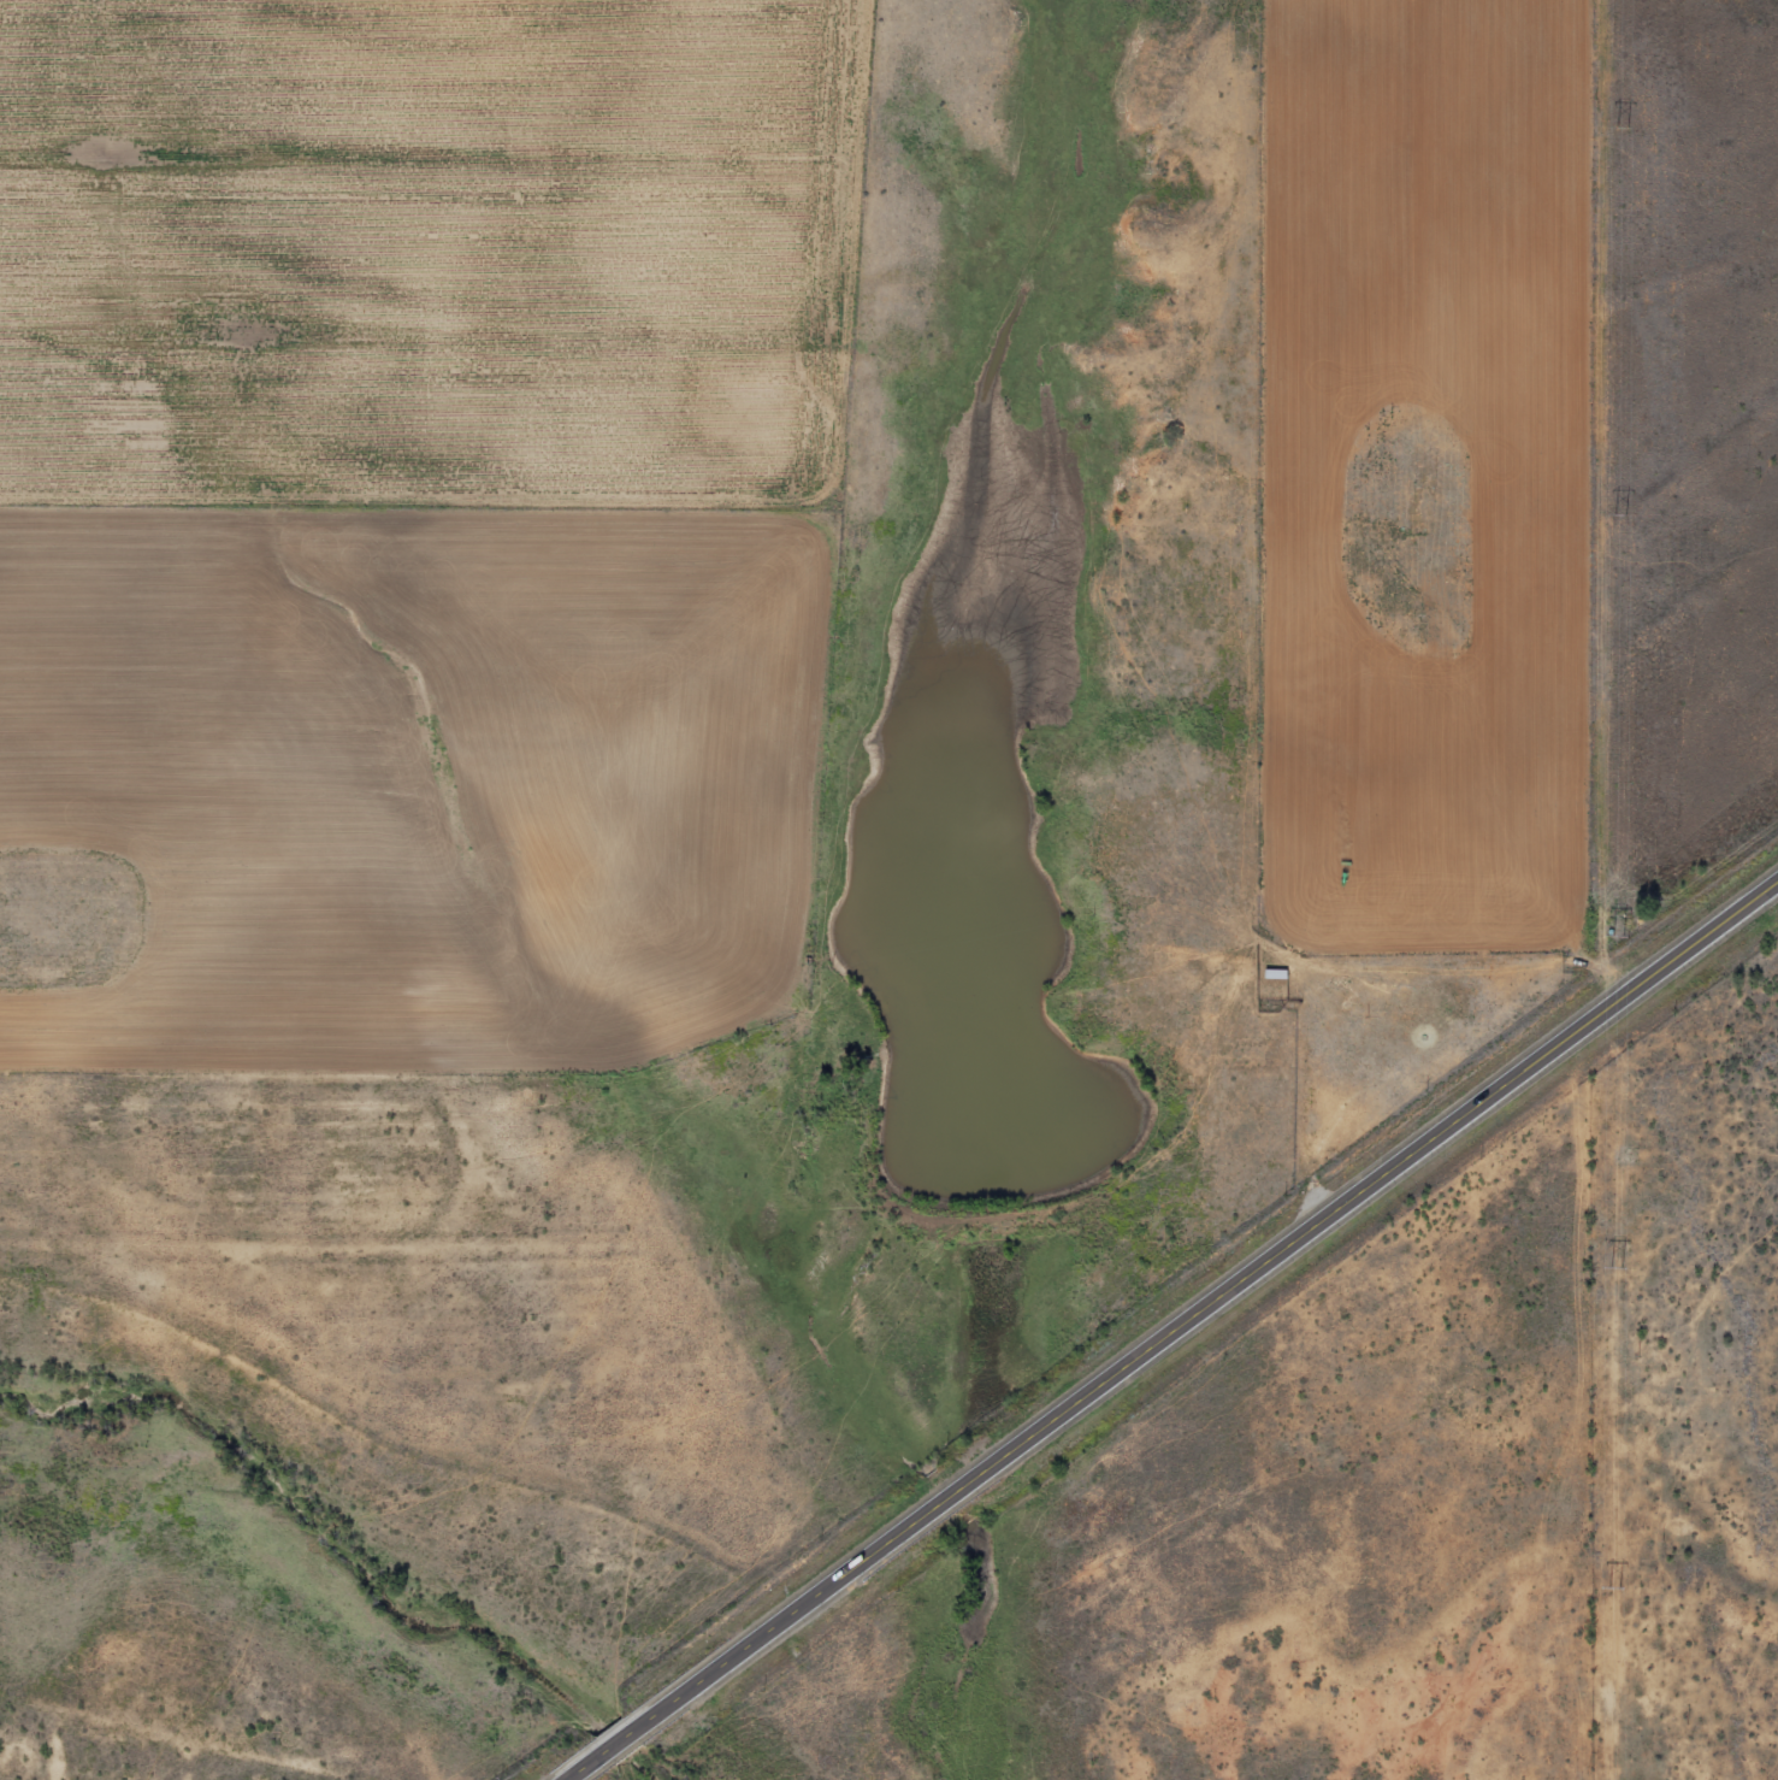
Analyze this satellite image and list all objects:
power tower: (1623, 130)
power tower: (1620, 519)
power tower: (1617, 939)
road: (697, 1240)
power tower: (1615, 1267)
road: (1177, 1333)
power tower: (1613, 1587)

